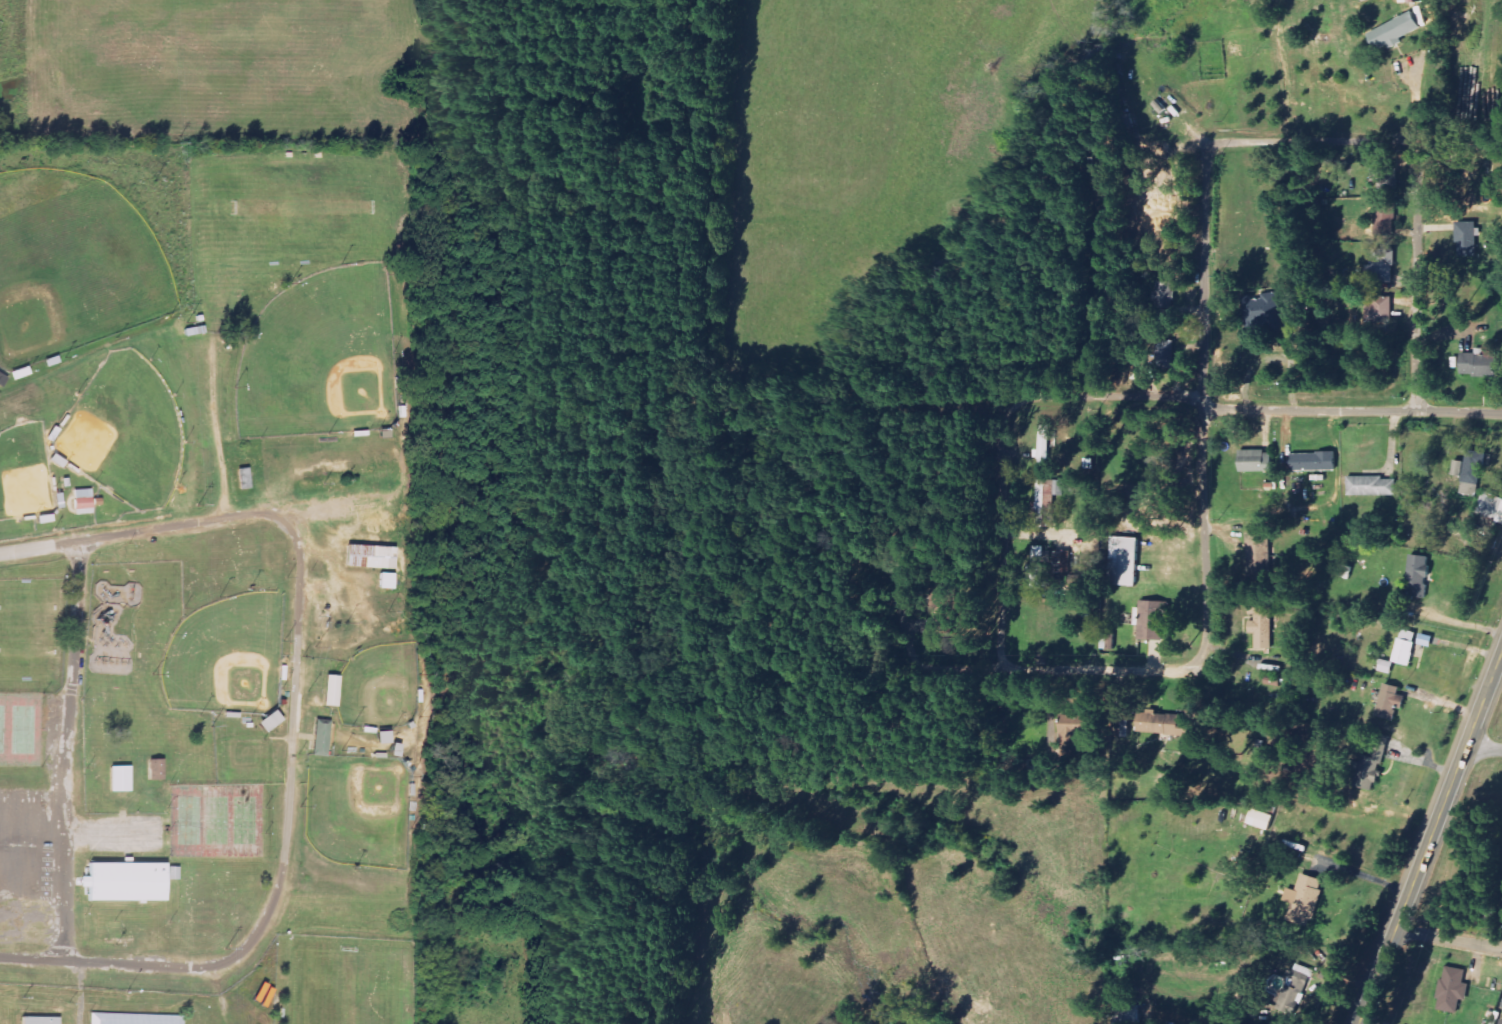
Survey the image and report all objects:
building: (1397, 32)
road: (1312, 141)
building: (1383, 174)
park: (287, 208)
building: (1379, 216)
building: (1469, 239)
park: (71, 265)
building: (1383, 267)
road: (1417, 276)
building: (1162, 293)
building: (1263, 310)
park: (321, 358)
building: (1482, 364)
building: (3, 380)
road: (1112, 385)
road: (1207, 396)
road: (1354, 410)
park: (123, 433)
building: (1044, 444)
building: (1257, 461)
building: (1316, 462)
park: (23, 473)
building: (1373, 487)
building: (83, 502)
building: (1491, 506)
building: (1259, 555)
building: (372, 557)
building: (1127, 562)
building: (1033, 569)
park: (221, 578)
building: (1419, 578)
building: (388, 581)
park: (27, 606)
building: (1154, 620)
building: (927, 621)
road: (1460, 622)
building: (1263, 625)
road: (992, 647)
park: (26, 651)
building: (1407, 652)
park: (225, 657)
building: (1389, 667)
park: (378, 688)
building: (326, 691)
building: (1388, 702)
road: (292, 717)
building: (1168, 725)
building: (1075, 737)
building: (317, 738)
building: (384, 738)
road: (68, 749)
road: (1483, 750)
building: (1369, 767)
building: (153, 770)
building: (116, 780)
building: (1261, 820)
road: (1430, 837)
building: (124, 883)
building: (1301, 900)
road: (1448, 938)
park: (350, 988)
building: (1451, 990)
building: (131, 1019)
building: (36, 1021)
building: (1499, 1023)

